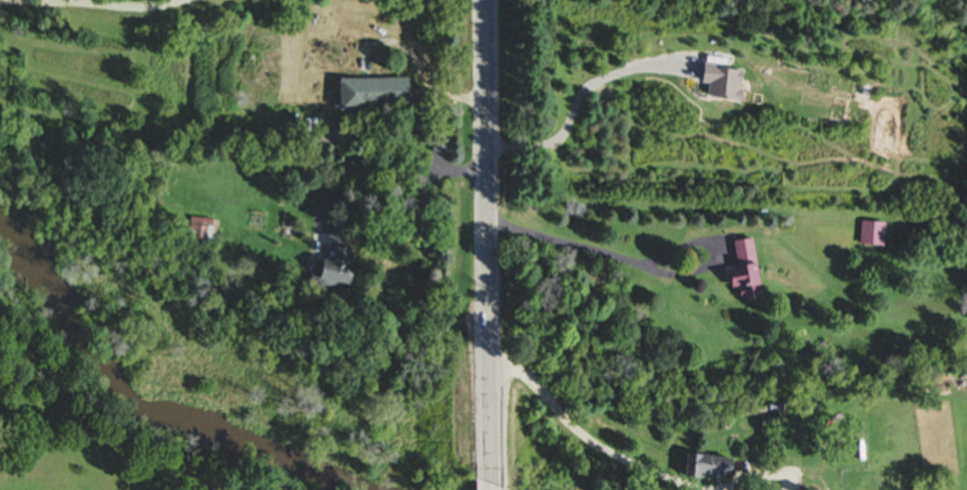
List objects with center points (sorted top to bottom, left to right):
road: (88, 1)
road: (421, 69)
building: (379, 94)
road: (577, 102)
building: (203, 231)
building: (876, 234)
road: (347, 240)
road: (489, 242)
road: (585, 246)
building: (340, 268)
building: (750, 272)
river: (118, 388)
road: (566, 417)
building: (719, 467)
road: (497, 487)

